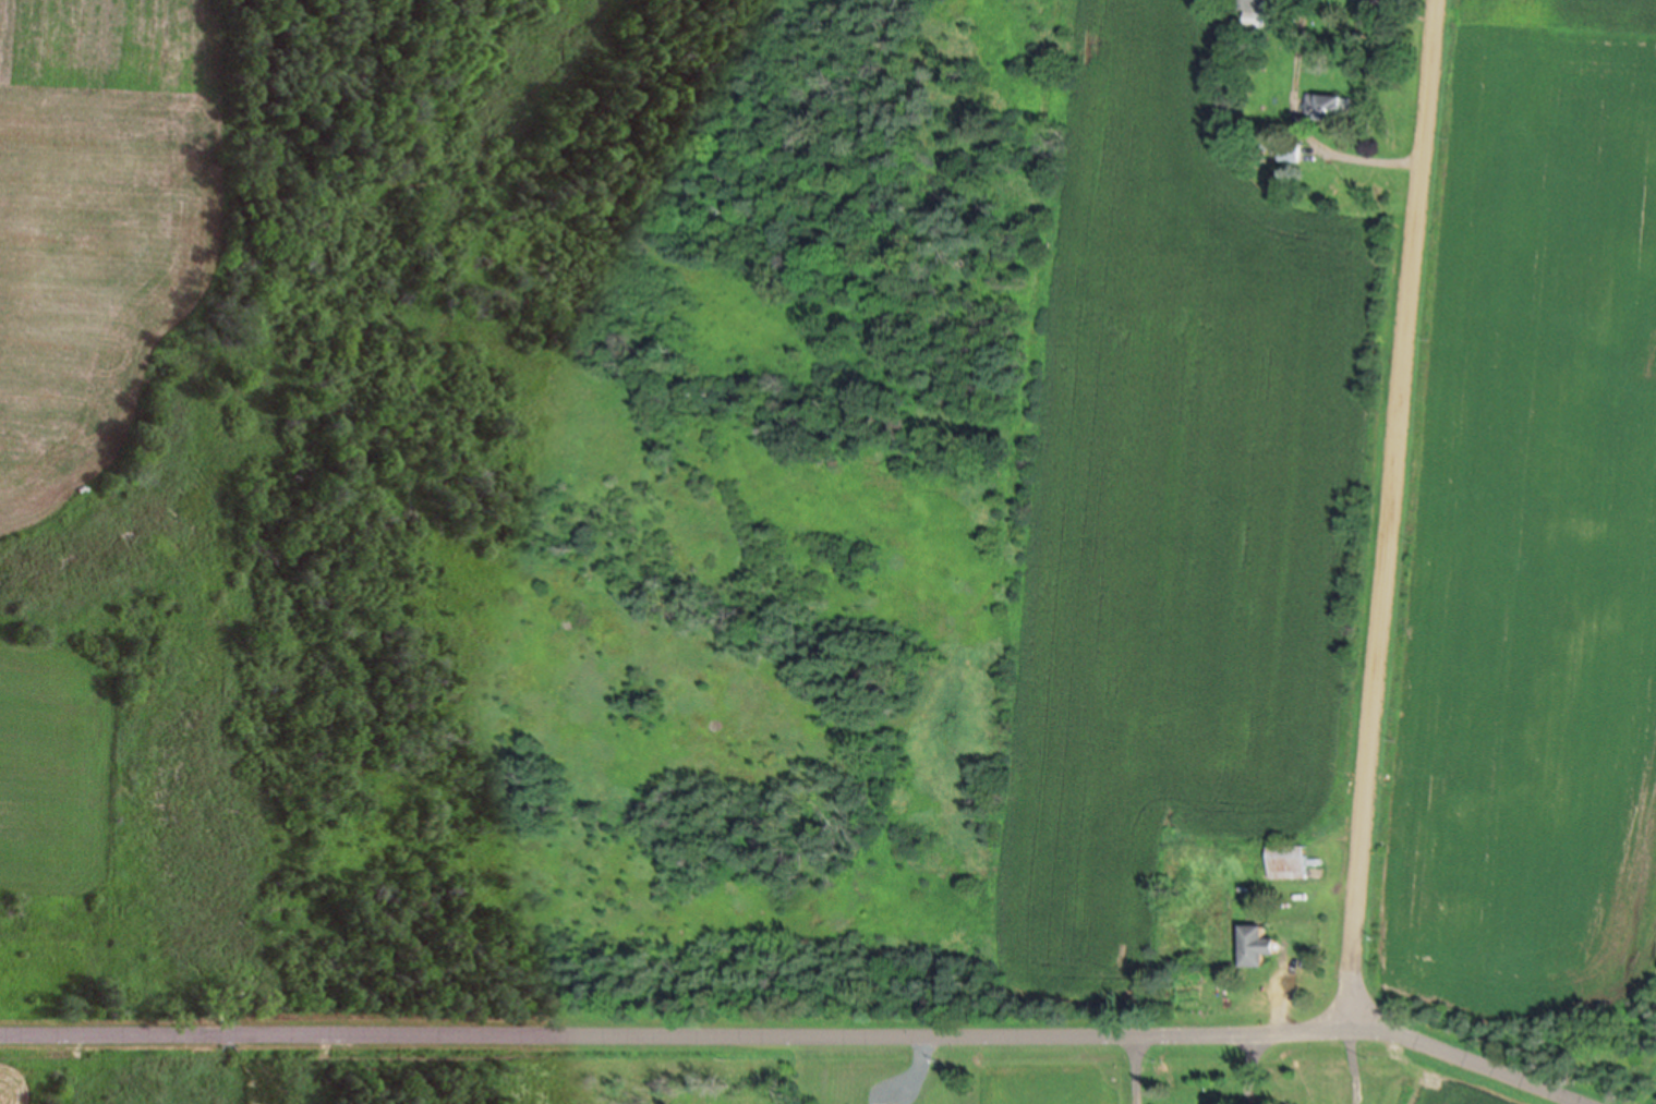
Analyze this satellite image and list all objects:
building: (1255, 11)
building: (1330, 106)
building: (1290, 151)
road: (1375, 510)
building: (1286, 861)
building: (1255, 945)
road: (787, 1030)
road: (1245, 1063)
road: (1131, 1064)

